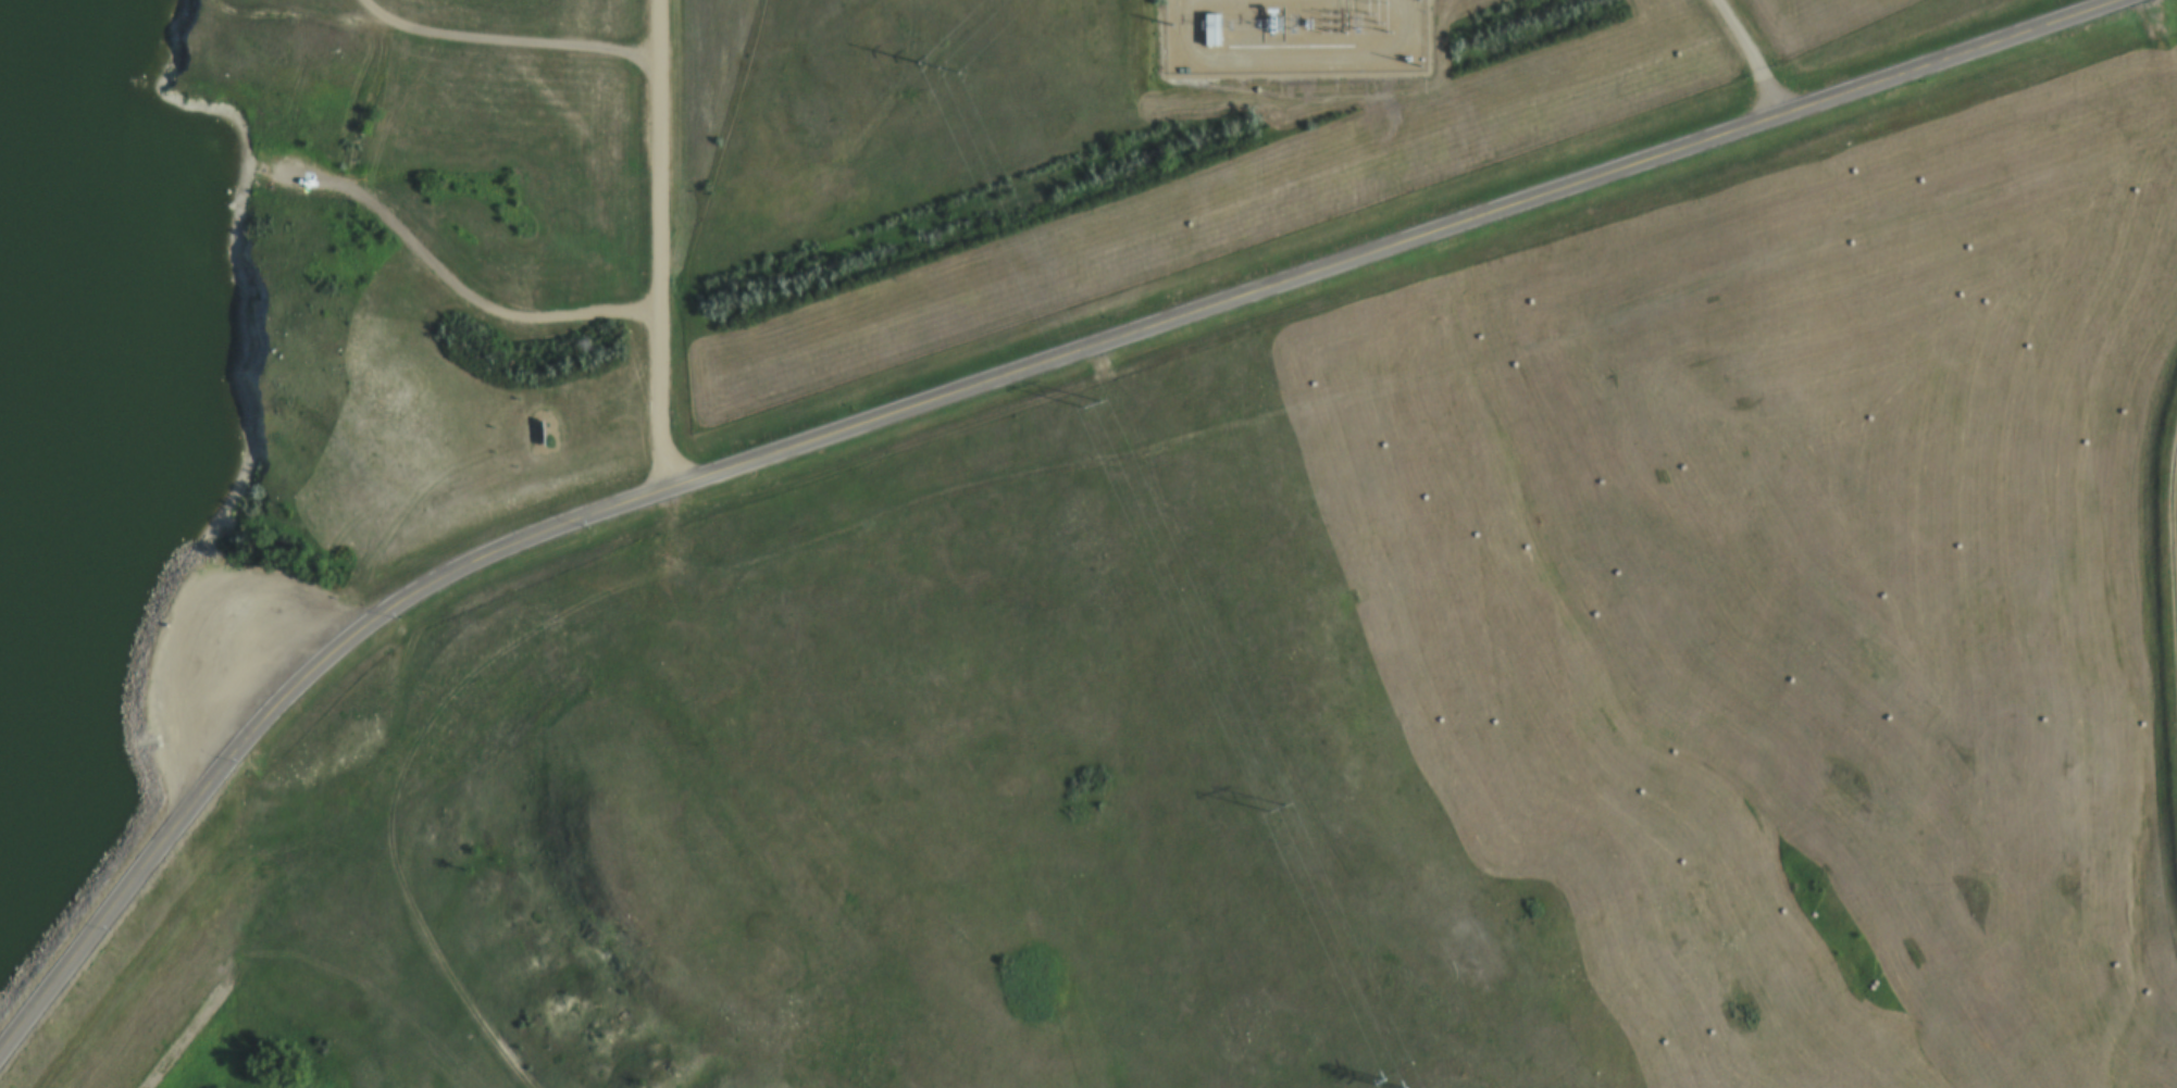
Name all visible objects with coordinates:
road: (295, 23)
building: (1215, 30)
power substation: (1296, 37)
road: (503, 48)
road: (1754, 59)
power tower: (935, 68)
road: (371, 111)
road: (662, 248)
road: (468, 300)
road: (973, 392)
power tower: (1087, 412)
road: (2170, 581)
power tower: (1265, 805)

